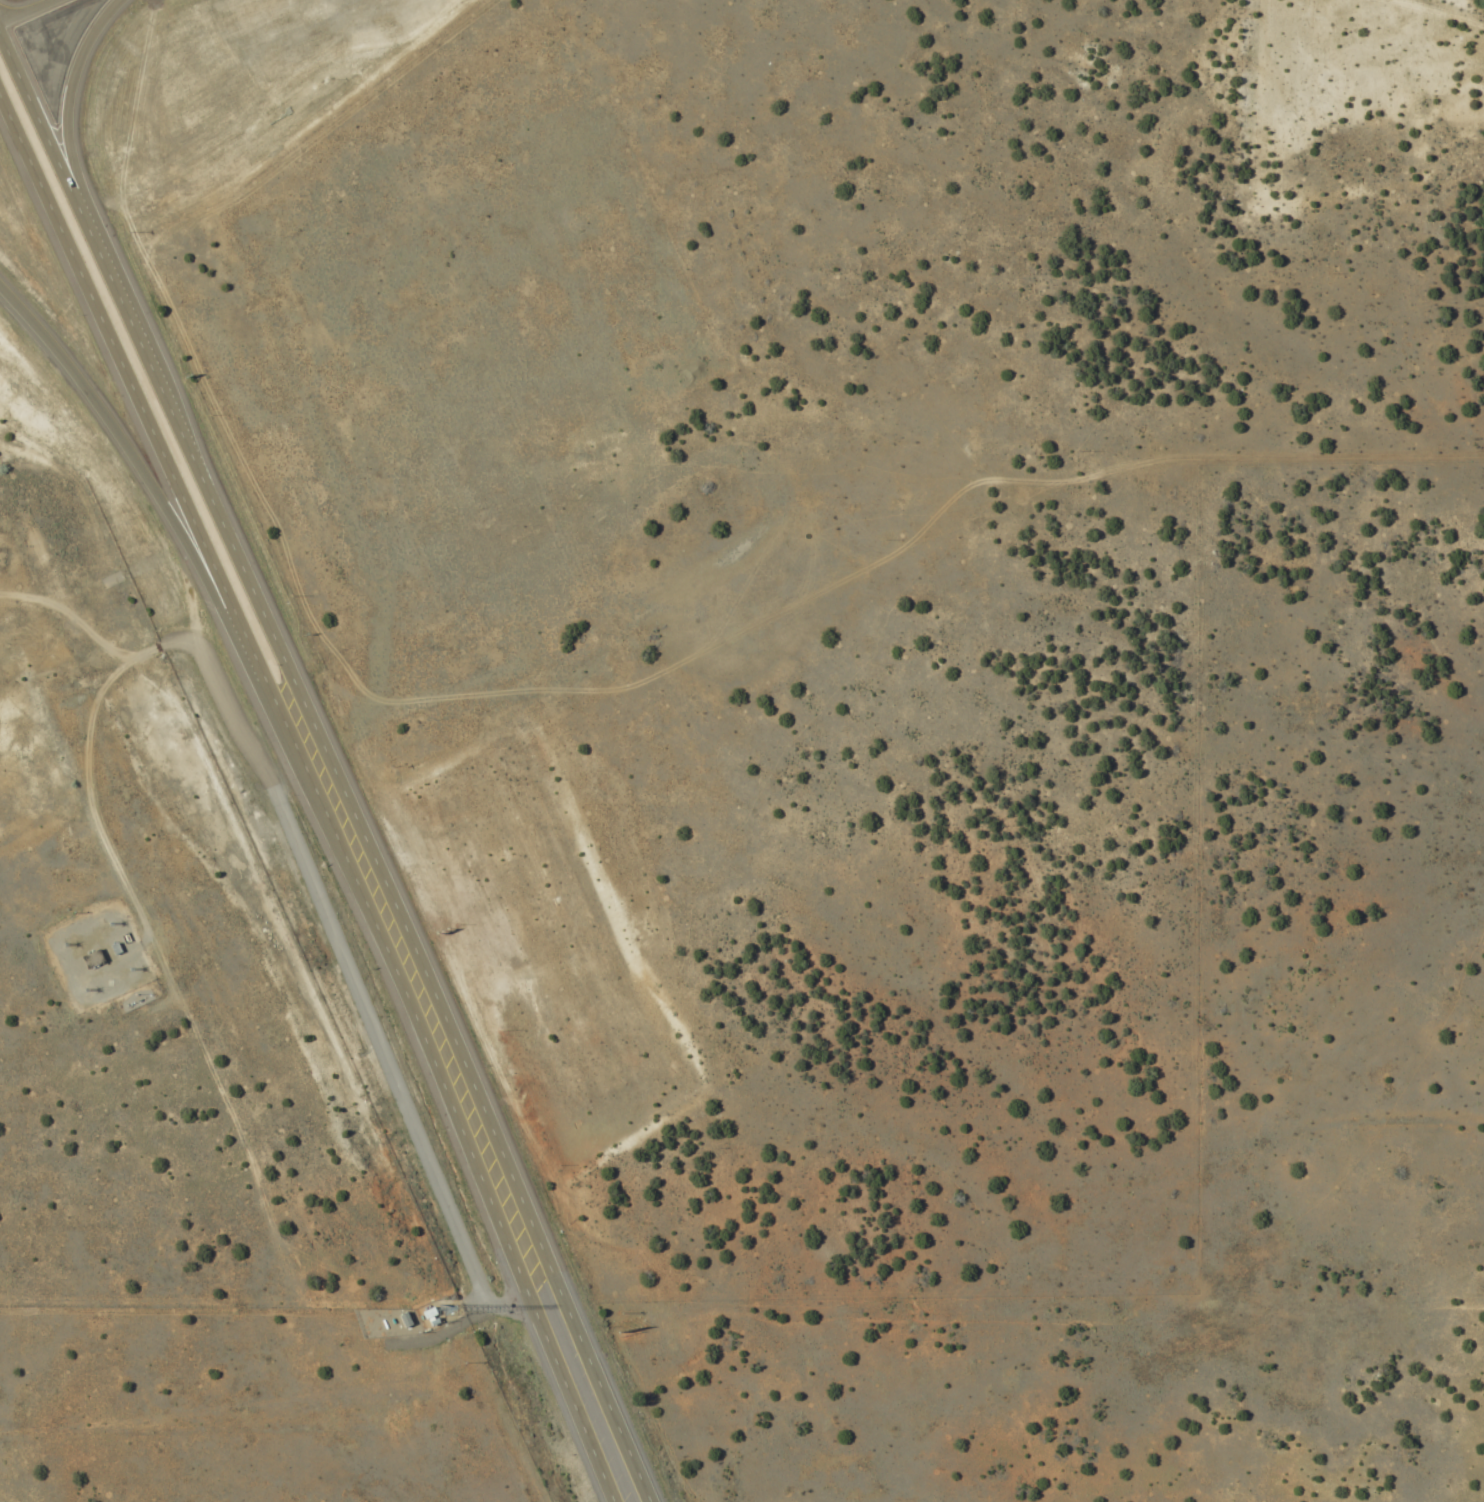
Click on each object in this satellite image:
road: (29, 11)
road: (63, 101)
road: (37, 132)
road: (114, 302)
road: (156, 495)
road: (71, 617)
road: (313, 795)
road: (86, 797)
road: (404, 943)
building: (89, 960)
road: (341, 963)
building: (426, 1317)

